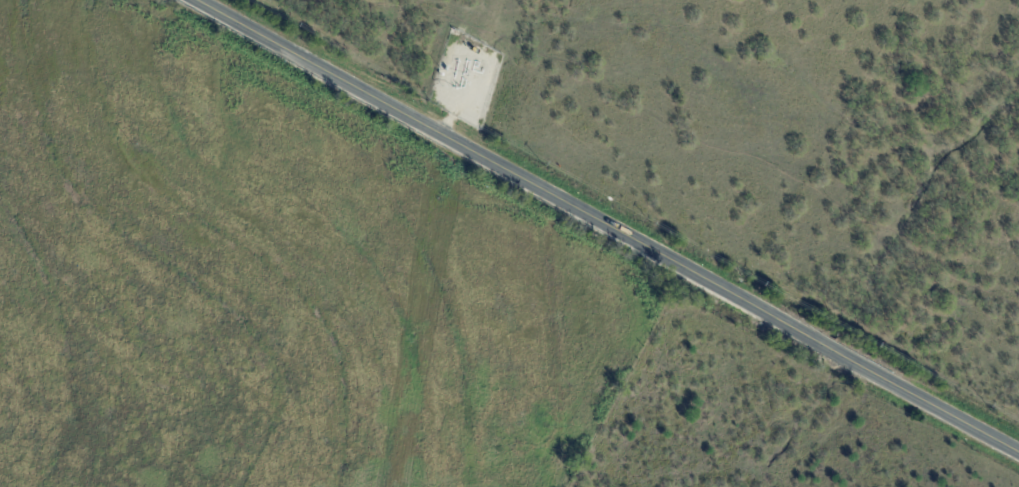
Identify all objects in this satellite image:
road: (605, 226)

